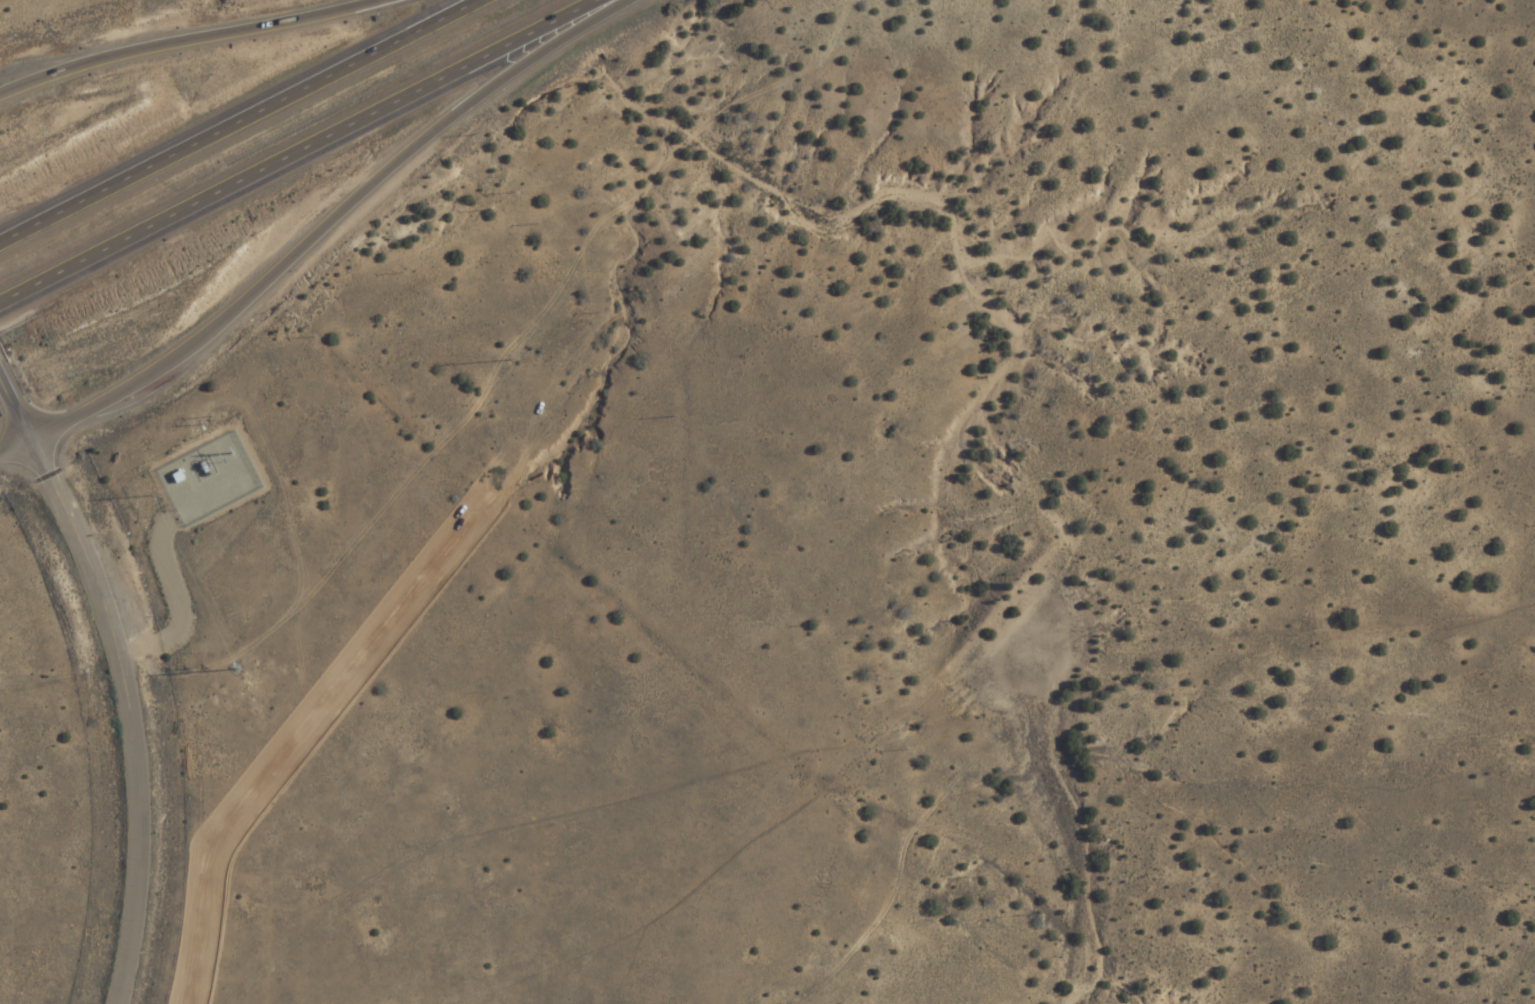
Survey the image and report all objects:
road: (179, 43)
road: (244, 124)
road: (307, 155)
road: (337, 221)
road: (18, 403)
road: (18, 447)
power substation: (207, 477)
road: (133, 713)

